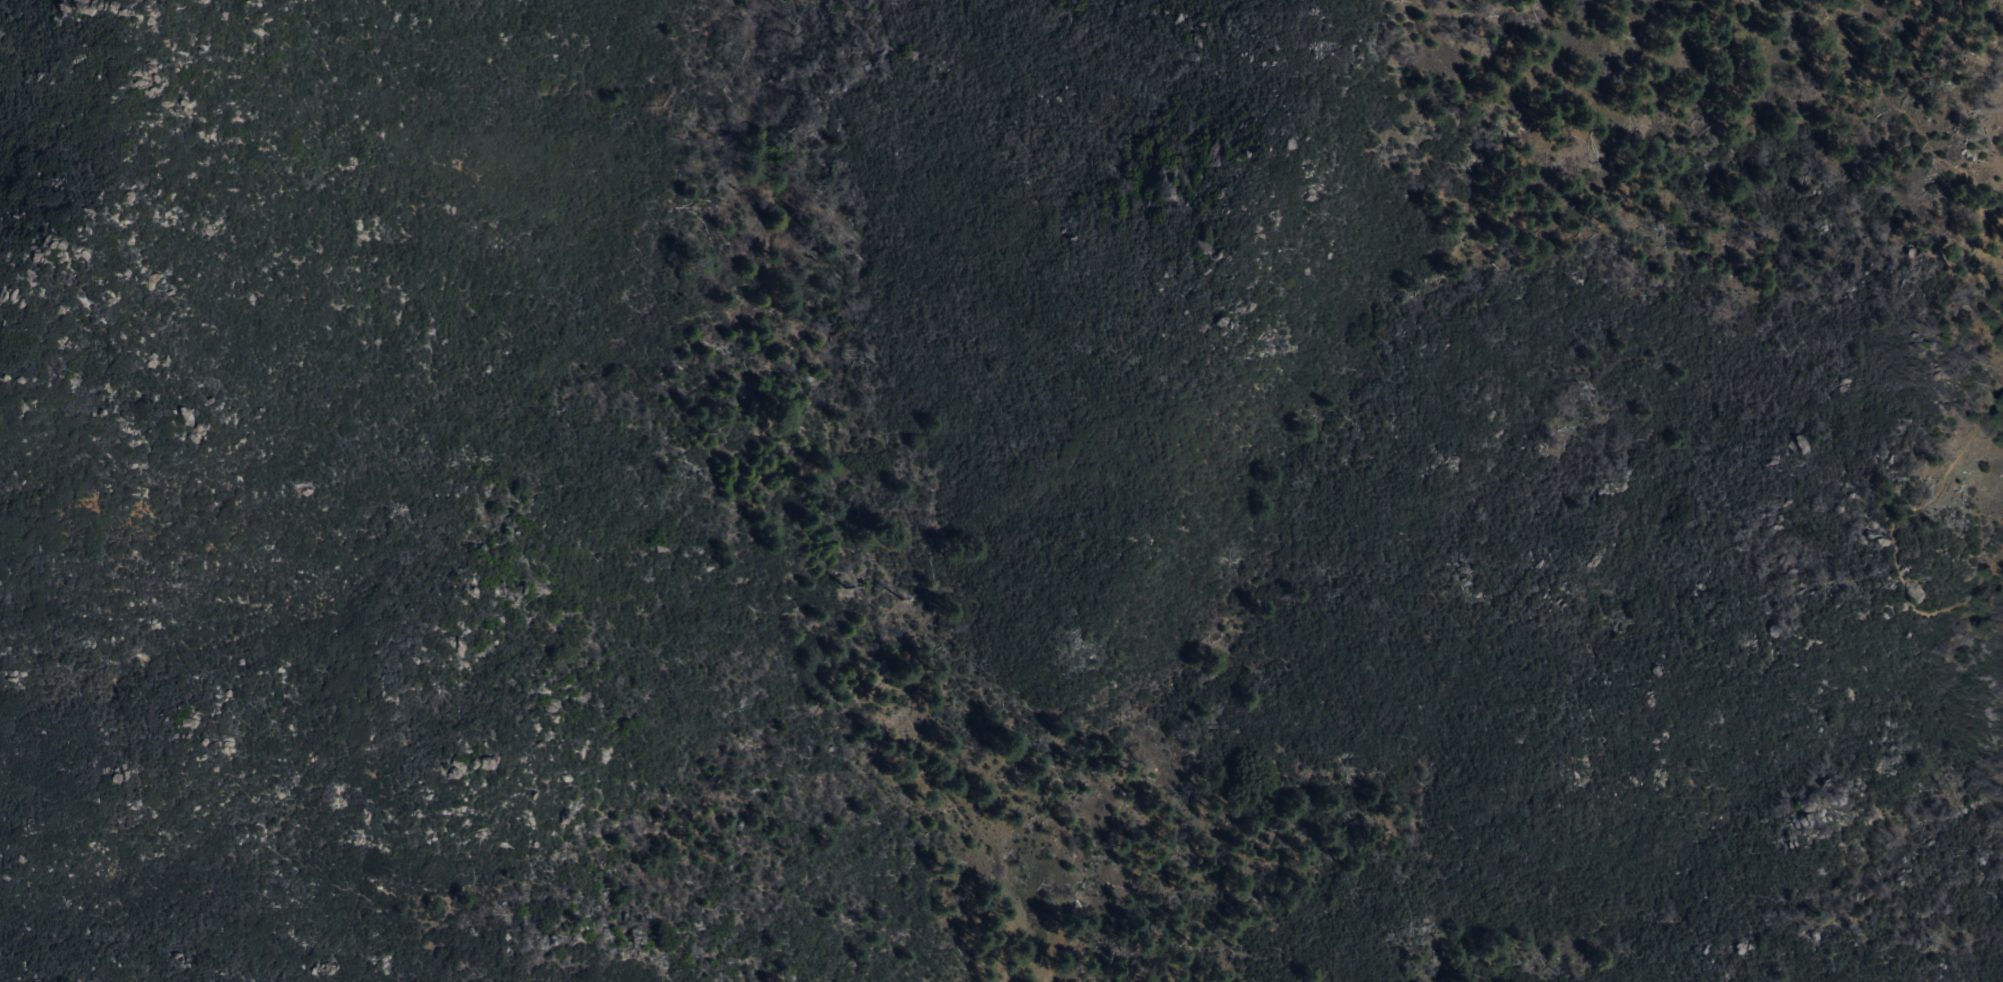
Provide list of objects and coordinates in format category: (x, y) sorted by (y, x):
road: (1931, 148)
road: (1895, 534)

